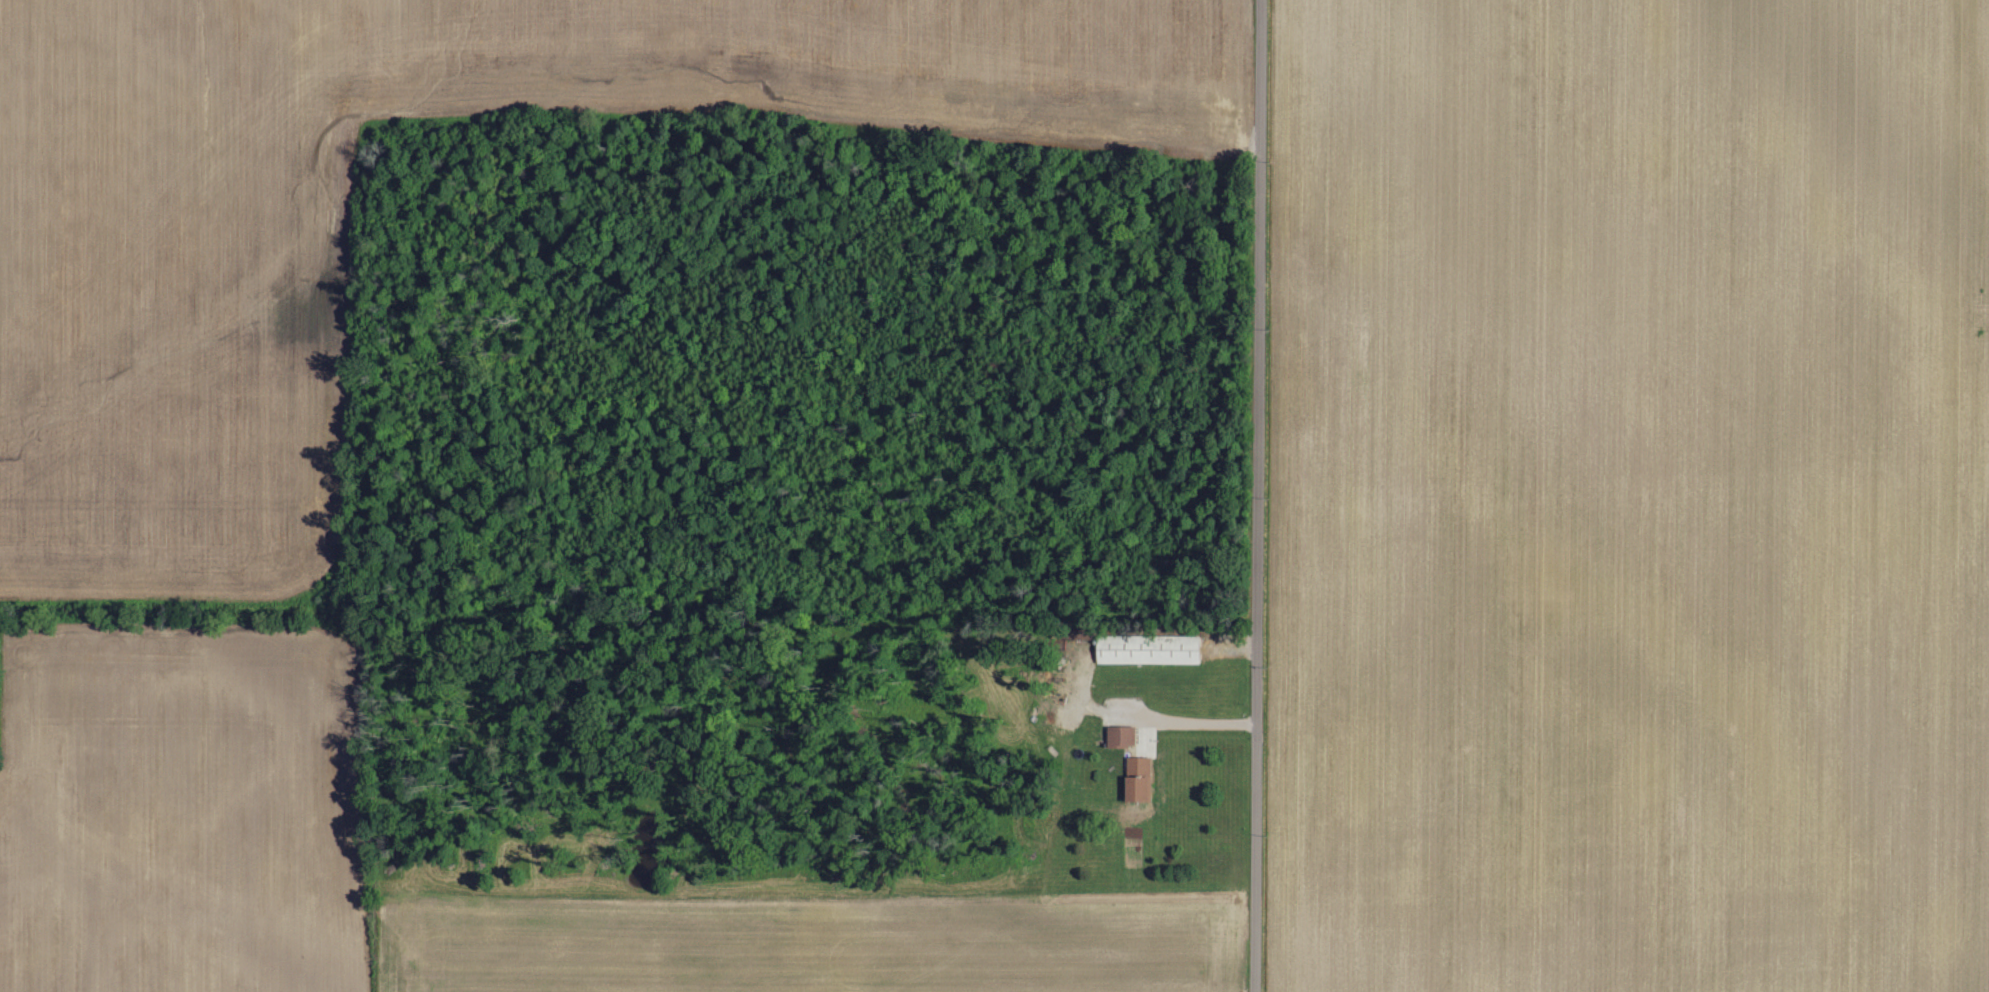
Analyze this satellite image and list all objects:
road: (1260, 496)
building: (1148, 649)
building: (1120, 736)
building: (1137, 778)

